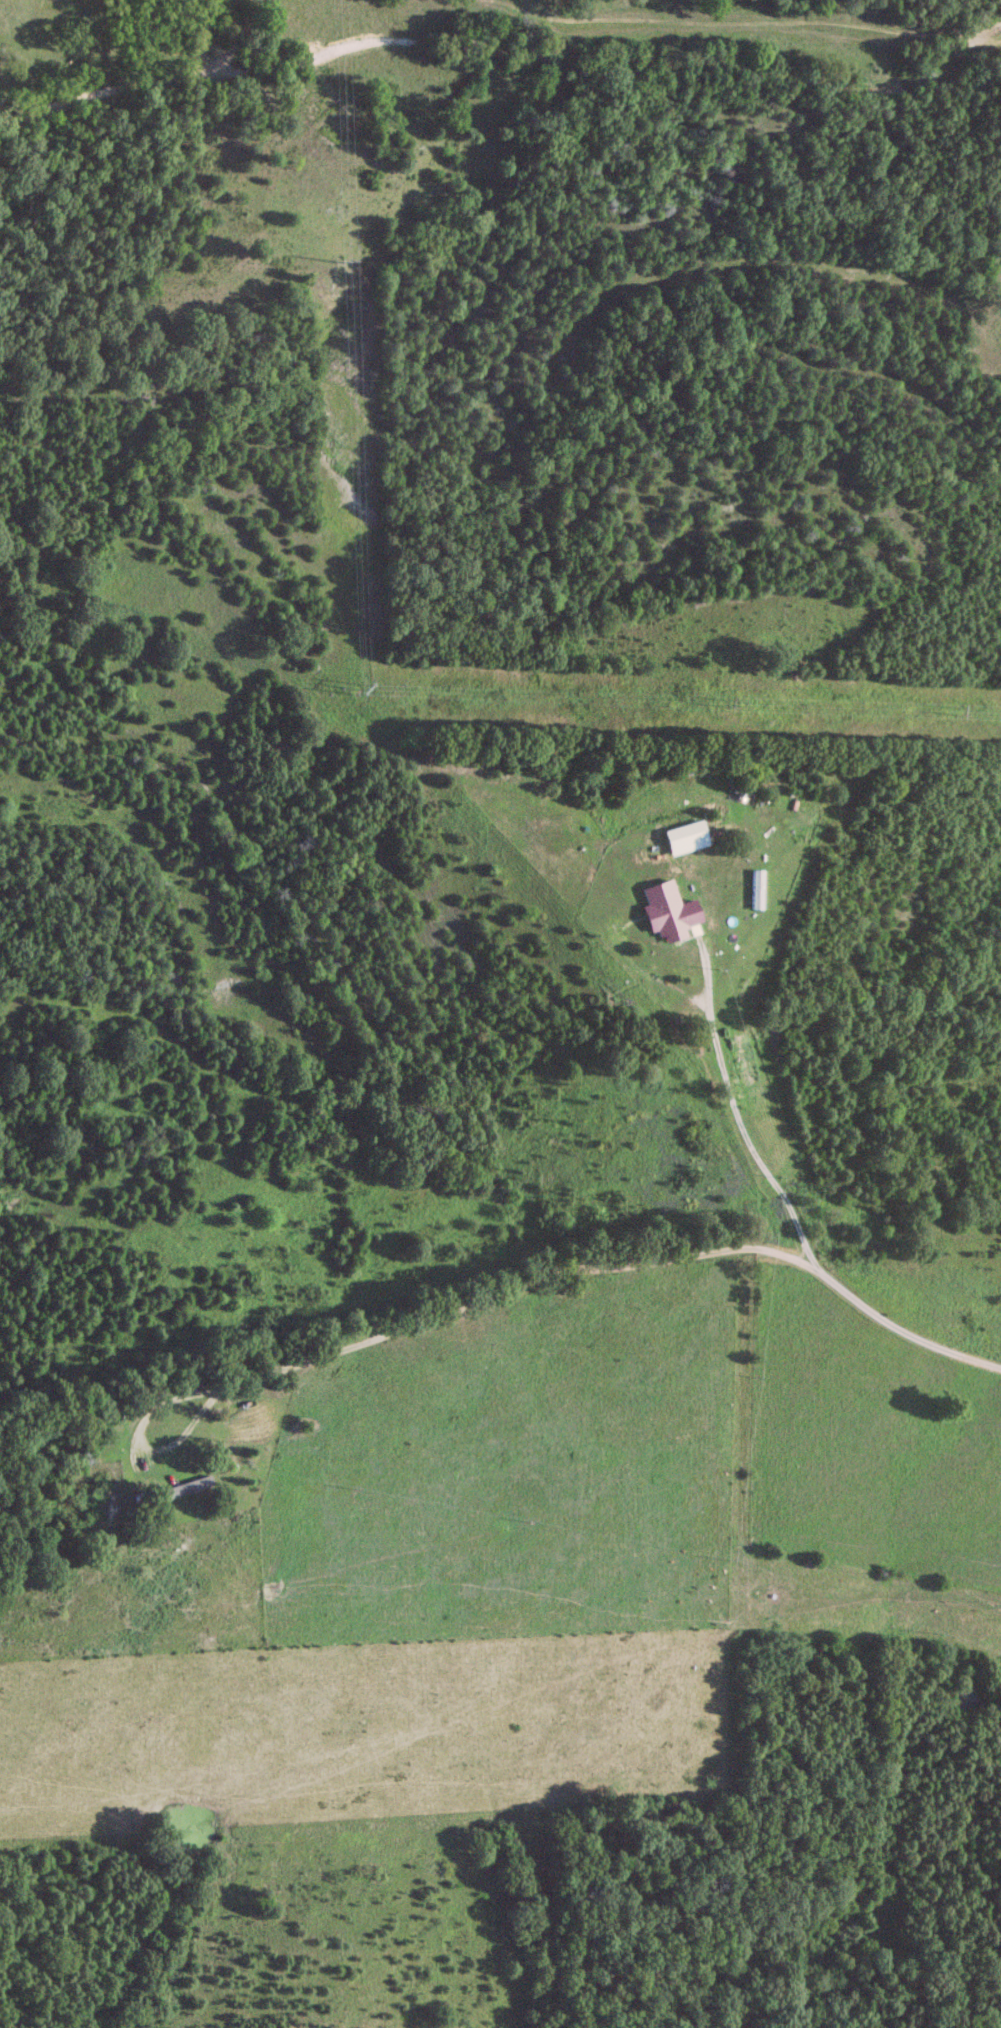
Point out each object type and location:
power tower: (344, 263)
power tower: (365, 686)
building: (682, 838)
building: (753, 889)
building: (665, 911)
road: (129, 1111)
road: (453, 1175)
building: (183, 1489)

